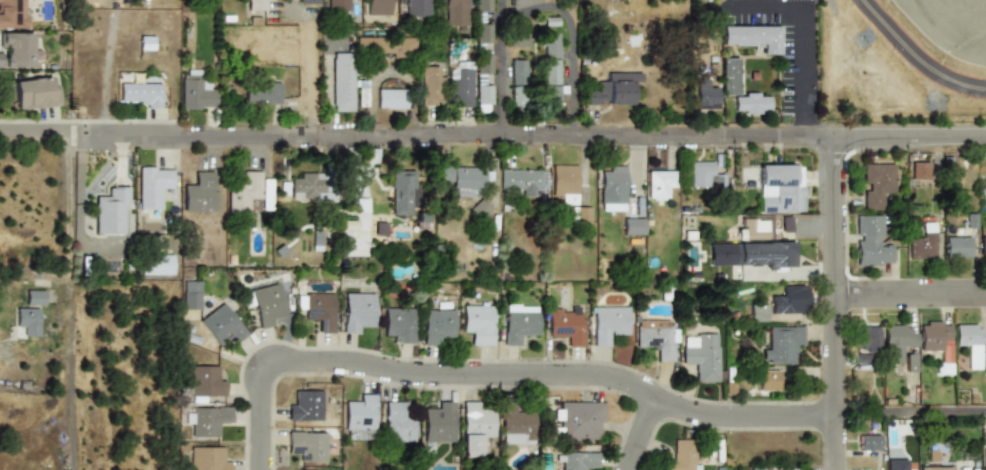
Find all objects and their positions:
building: (307, 1)
building: (256, 5)
building: (337, 5)
building: (481, 6)
building: (377, 7)
building: (416, 7)
building: (454, 12)
building: (13, 14)
road: (800, 29)
building: (756, 32)
building: (481, 33)
road: (567, 39)
building: (517, 40)
building: (547, 45)
building: (385, 46)
building: (19, 51)
road: (915, 57)
road: (309, 60)
road: (107, 68)
road: (499, 68)
building: (515, 72)
building: (734, 73)
building: (340, 82)
building: (480, 82)
building: (427, 85)
building: (548, 85)
building: (458, 88)
building: (195, 91)
building: (608, 91)
building: (38, 93)
building: (260, 93)
building: (141, 94)
building: (703, 95)
building: (514, 96)
building: (389, 98)
building: (756, 102)
road: (32, 129)
road: (74, 133)
road: (535, 137)
building: (920, 170)
building: (701, 175)
building: (456, 178)
building: (517, 180)
building: (561, 183)
building: (876, 183)
building: (657, 184)
building: (152, 186)
building: (306, 186)
building: (610, 189)
building: (778, 189)
building: (398, 192)
building: (199, 193)
building: (247, 193)
road: (78, 211)
building: (111, 211)
building: (578, 215)
building: (783, 224)
building: (631, 226)
building: (749, 229)
building: (870, 241)
building: (923, 242)
building: (984, 245)
building: (958, 246)
building: (761, 254)
building: (157, 265)
road: (910, 294)
building: (36, 297)
building: (191, 300)
road: (835, 303)
building: (267, 304)
building: (772, 306)
building: (317, 308)
building: (357, 311)
building: (28, 320)
building: (518, 322)
building: (609, 322)
building: (399, 323)
building: (477, 323)
building: (565, 323)
building: (221, 324)
building: (435, 324)
building: (655, 337)
building: (867, 338)
building: (897, 342)
building: (781, 344)
building: (937, 344)
building: (970, 344)
building: (701, 355)
building: (910, 363)
road: (503, 374)
building: (768, 380)
building: (205, 382)
building: (306, 405)
building: (361, 412)
road: (910, 413)
building: (515, 417)
building: (207, 419)
building: (398, 420)
building: (581, 420)
building: (439, 423)
building: (476, 424)
road: (643, 433)
building: (869, 442)
building: (308, 446)
building: (683, 455)
building: (208, 459)
building: (984, 459)
building: (579, 461)
building: (934, 468)

